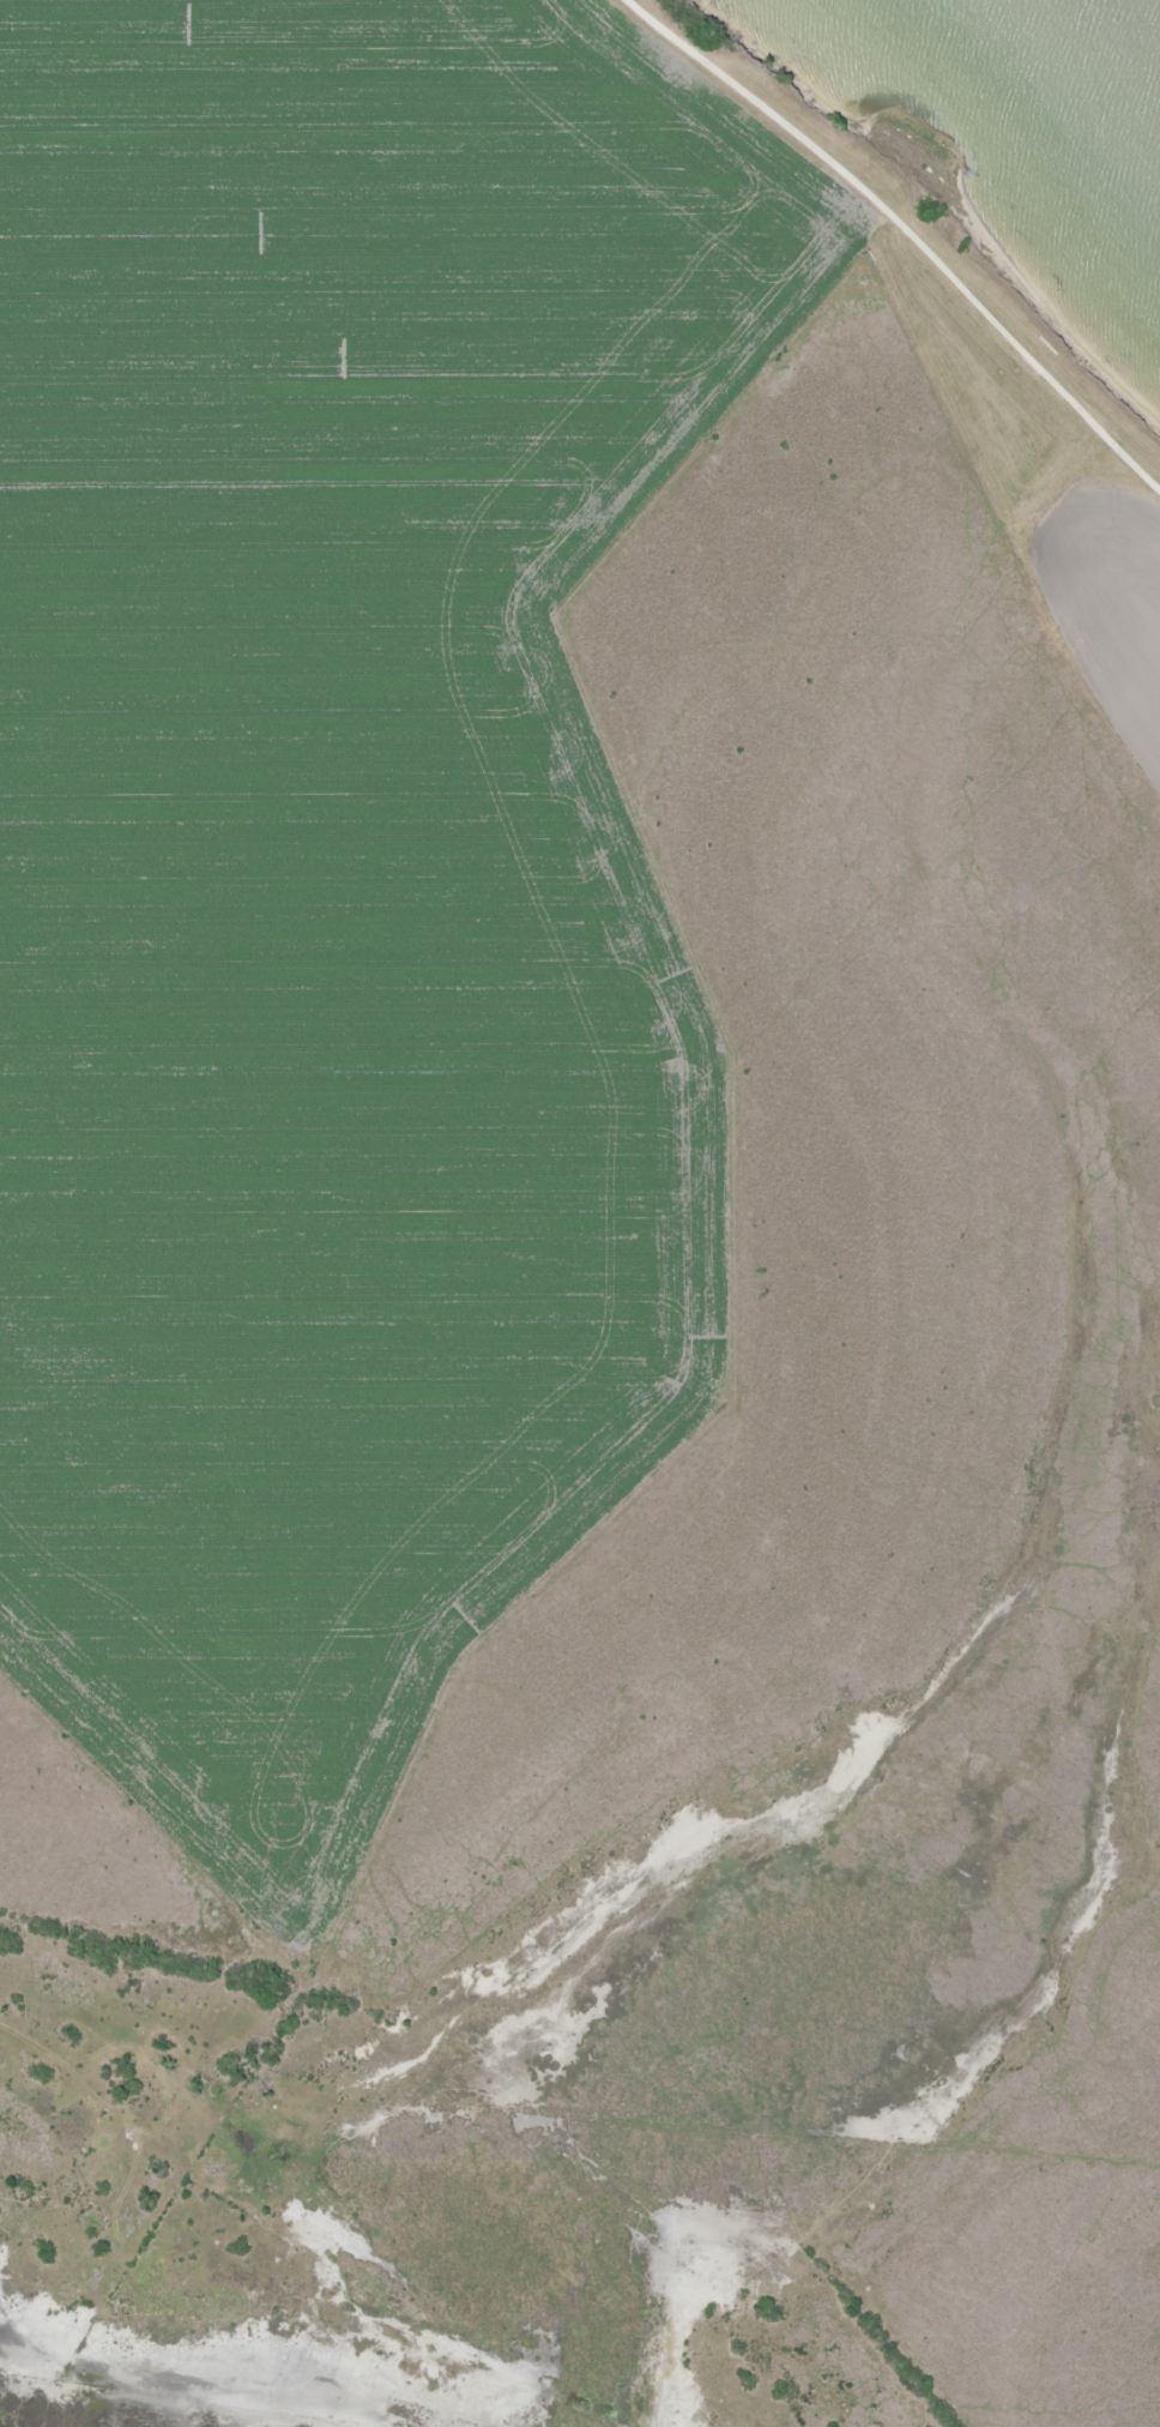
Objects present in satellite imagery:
road: (900, 231)

